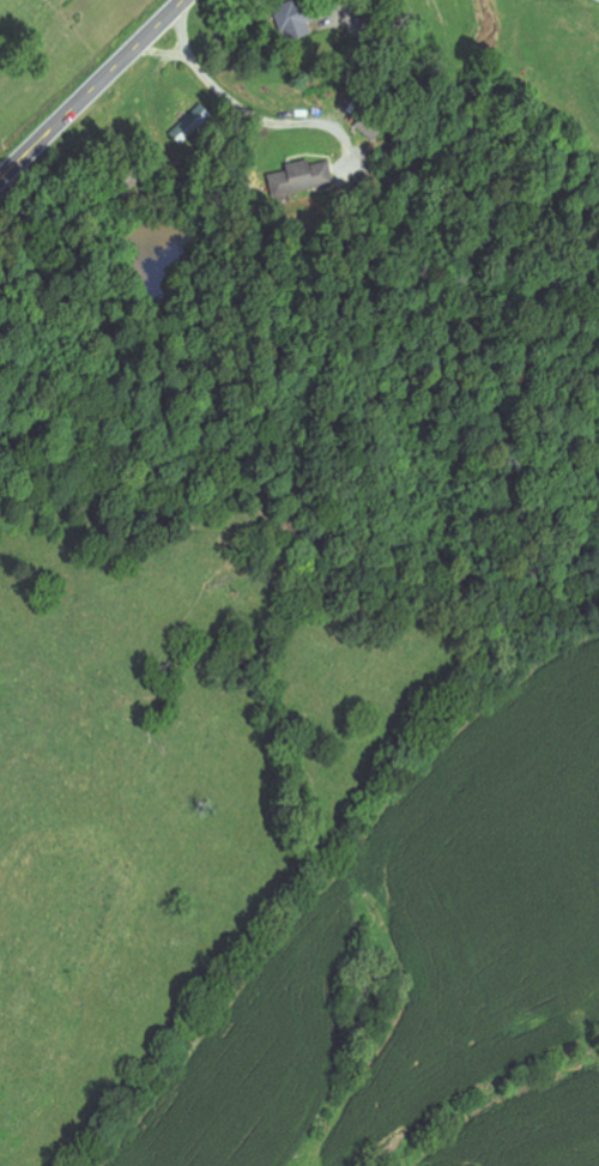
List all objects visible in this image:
building: (299, 19)
road: (92, 91)
building: (195, 122)

